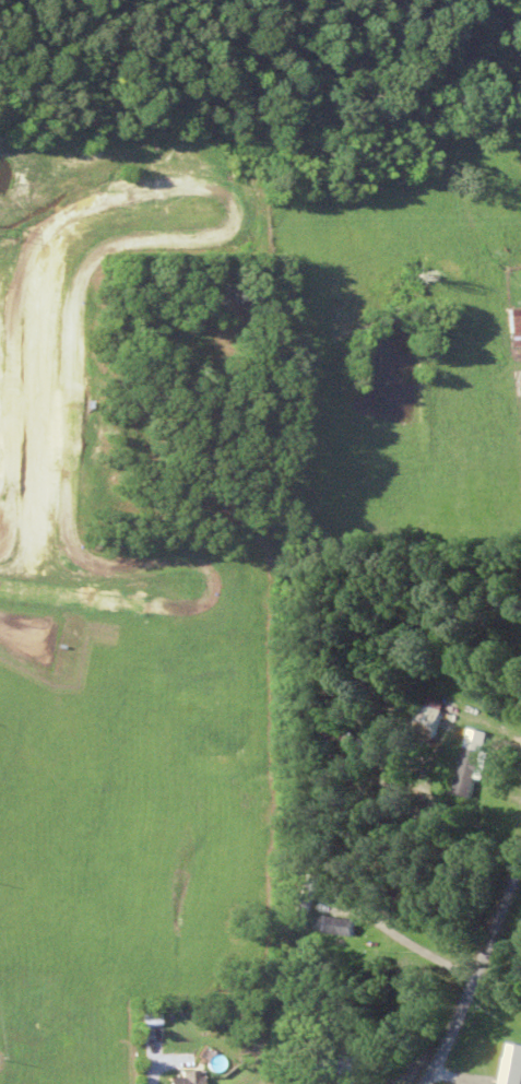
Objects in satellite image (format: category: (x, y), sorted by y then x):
building: (513, 327)
building: (464, 578)
building: (428, 719)
building: (467, 773)
building: (334, 926)
road: (489, 1013)
building: (146, 1020)
building: (323, 1058)
building: (512, 1065)
building: (183, 1077)

